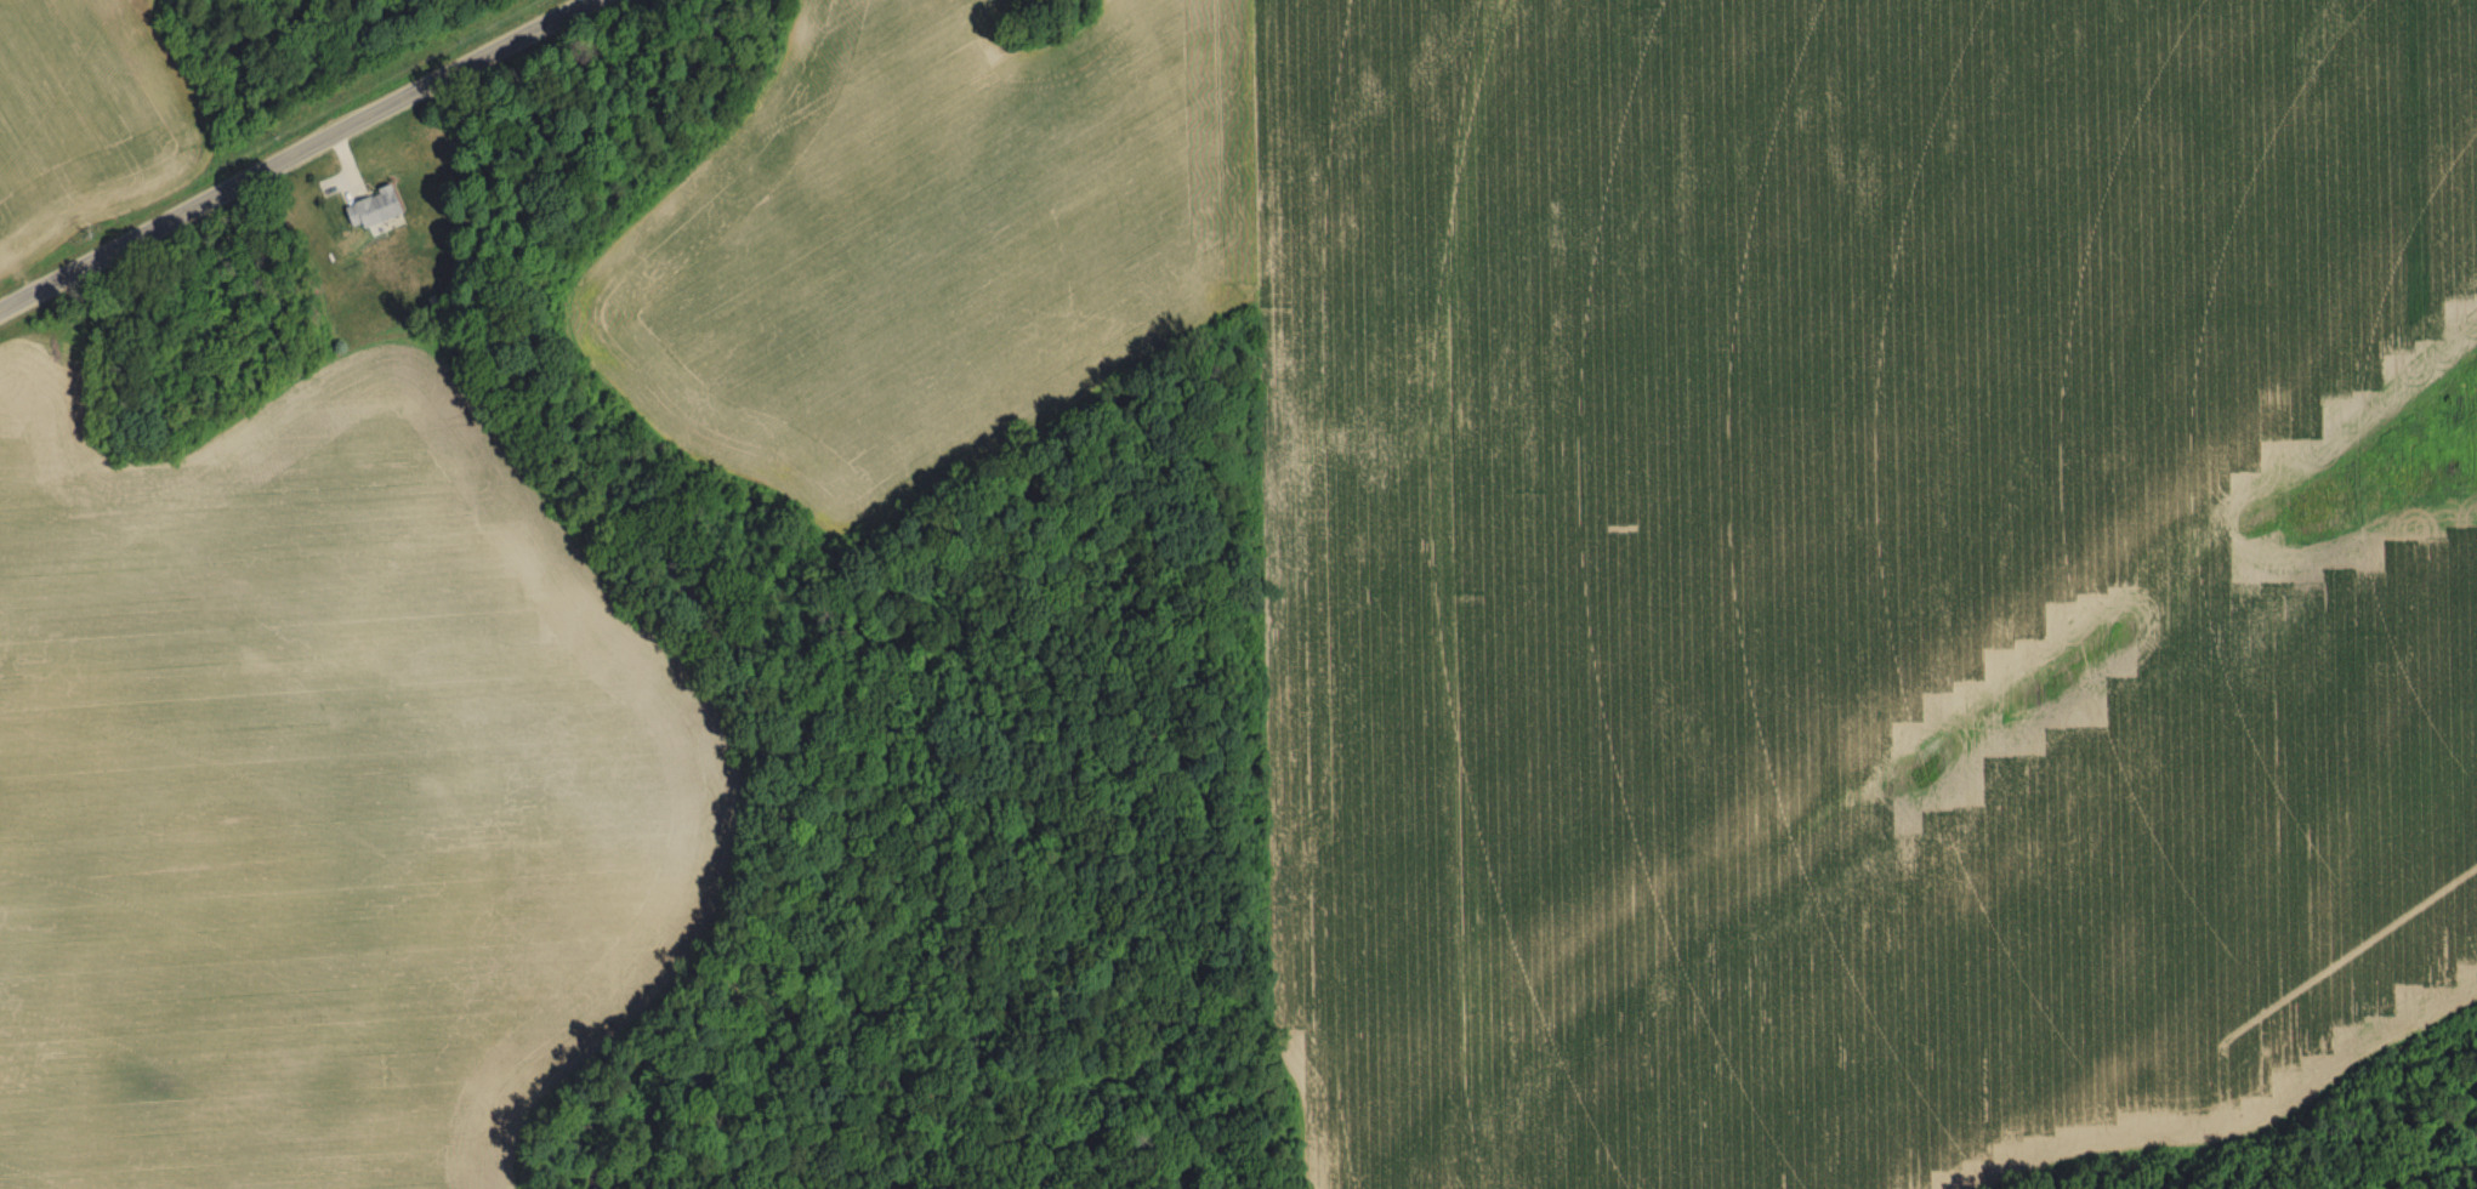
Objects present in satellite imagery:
road: (299, 158)
building: (368, 210)

